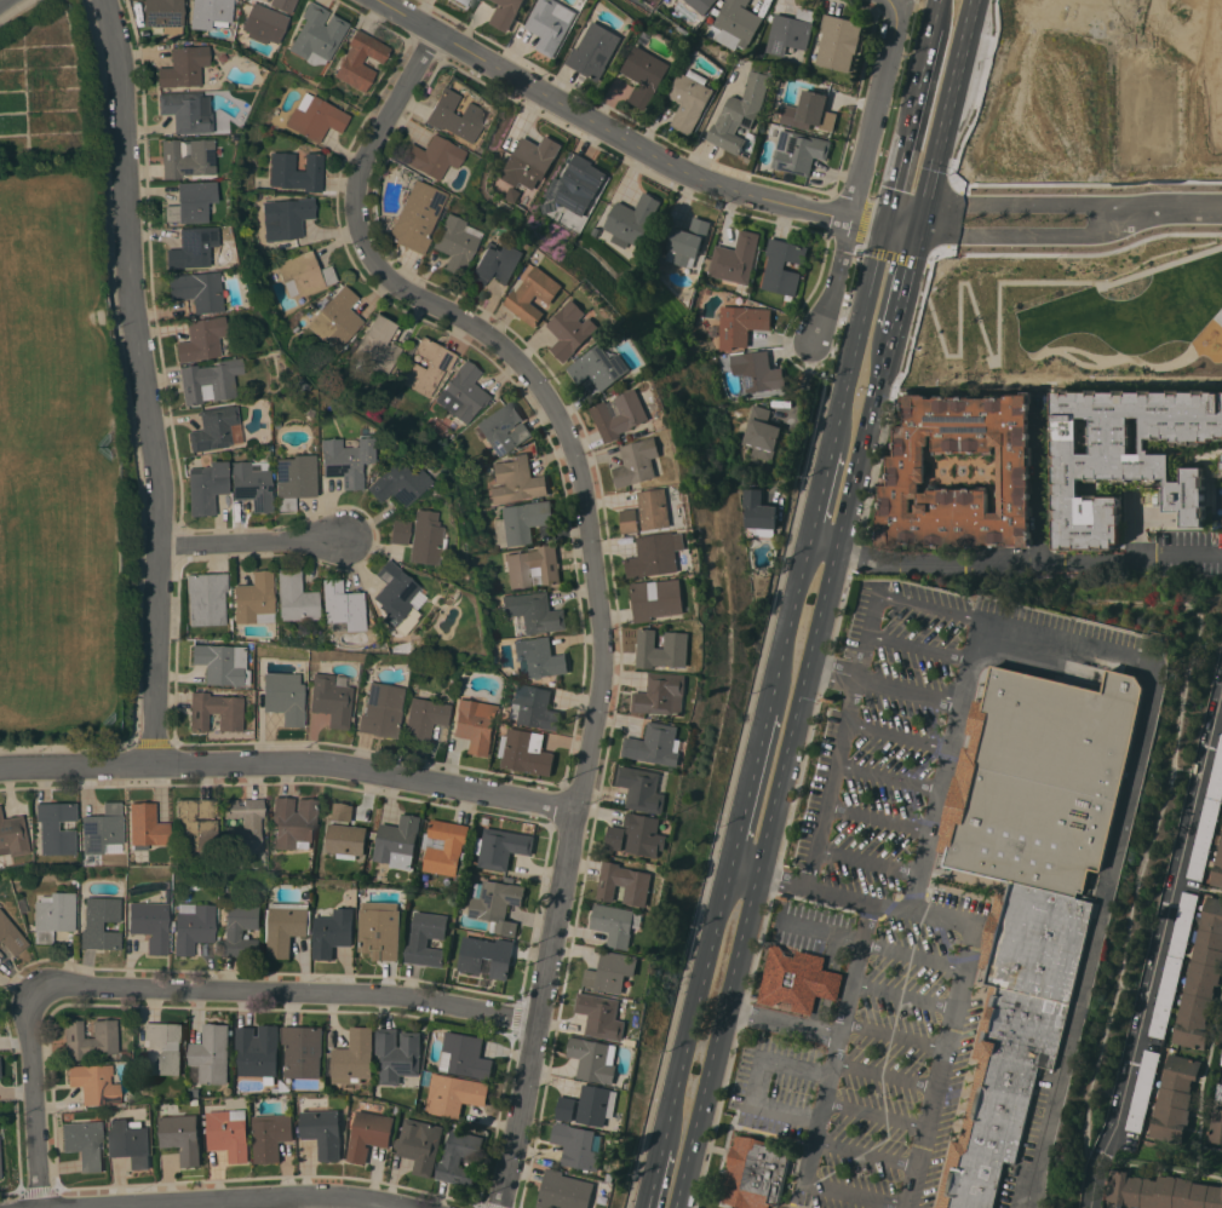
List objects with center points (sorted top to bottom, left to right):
building: (460, 1)
building: (282, 5)
building: (701, 5)
road: (13, 8)
building: (210, 12)
building: (507, 13)
building: (163, 15)
building: (264, 23)
building: (552, 24)
building: (735, 24)
building: (791, 30)
building: (319, 33)
building: (836, 42)
building: (596, 51)
building: (360, 59)
building: (184, 65)
road: (922, 73)
building: (646, 74)
building: (690, 99)
road: (518, 102)
road: (877, 109)
building: (187, 111)
building: (740, 114)
building: (811, 114)
road: (942, 114)
building: (455, 115)
building: (316, 119)
road: (621, 137)
building: (799, 151)
building: (434, 156)
building: (187, 157)
building: (530, 161)
building: (297, 171)
building: (580, 184)
road: (895, 185)
building: (511, 194)
road: (849, 195)
building: (191, 202)
road: (1164, 205)
road: (832, 213)
building: (414, 214)
building: (286, 218)
building: (631, 219)
road: (1106, 220)
road: (864, 224)
traffic signals: (887, 224)
road: (900, 226)
traffic signals: (914, 230)
building: (688, 241)
building: (455, 242)
building: (193, 247)
road: (891, 255)
building: (735, 258)
building: (500, 259)
building: (784, 266)
building: (304, 274)
road: (901, 281)
road: (833, 282)
building: (196, 289)
building: (534, 294)
road: (150, 295)
building: (337, 317)
building: (742, 323)
building: (573, 329)
road: (859, 336)
building: (202, 339)
building: (378, 344)
building: (426, 367)
building: (602, 367)
building: (757, 370)
road: (142, 380)
building: (210, 380)
building: (463, 392)
road: (798, 413)
building: (621, 414)
building: (504, 427)
building: (214, 428)
building: (761, 433)
road: (133, 436)
building: (1126, 458)
building: (345, 460)
building: (638, 461)
park: (56, 462)
building: (1214, 472)
building: (907, 473)
building: (400, 479)
building: (516, 481)
building: (294, 482)
building: (251, 485)
building: (206, 487)
road: (1039, 491)
road: (821, 493)
building: (655, 508)
building: (758, 510)
building: (521, 522)
building: (630, 522)
building: (397, 531)
building: (425, 539)
road: (182, 541)
road: (249, 542)
building: (656, 553)
road: (1178, 556)
road: (970, 557)
road: (592, 563)
building: (533, 566)
building: (294, 597)
building: (206, 598)
building: (254, 598)
building: (396, 598)
building: (658, 598)
road: (822, 604)
building: (342, 605)
road: (931, 608)
building: (533, 612)
road: (787, 622)
road: (865, 633)
road: (918, 645)
building: (662, 649)
building: (539, 657)
building: (222, 663)
building: (661, 694)
building: (285, 696)
building: (332, 698)
building: (534, 707)
building: (381, 709)
building: (214, 712)
building: (424, 719)
building: (476, 724)
road: (1140, 731)
road: (810, 735)
road: (896, 735)
road: (154, 742)
building: (655, 744)
building: (526, 752)
road: (289, 760)
road: (887, 777)
road: (562, 780)
building: (1042, 780)
road: (830, 782)
road: (746, 787)
building: (643, 788)
road: (935, 805)
building: (342, 811)
road: (877, 818)
building: (1207, 819)
building: (294, 822)
building: (195, 824)
building: (243, 824)
building: (145, 826)
building: (54, 827)
building: (102, 828)
building: (12, 834)
building: (646, 834)
building: (616, 838)
building: (346, 840)
building: (398, 841)
building: (446, 846)
building: (503, 847)
road: (866, 861)
building: (1217, 868)
road: (741, 870)
building: (625, 884)
building: (498, 904)
building: (53, 914)
building: (101, 922)
building: (150, 924)
building: (615, 924)
building: (285, 926)
road: (1161, 926)
building: (194, 928)
road: (821, 928)
building: (380, 930)
building: (241, 931)
building: (333, 932)
building: (11, 934)
building: (426, 939)
building: (1037, 942)
building: (486, 955)
road: (911, 955)
road: (965, 957)
building: (1172, 963)
road: (854, 970)
building: (612, 971)
building: (797, 979)
building: (1201, 979)
road: (179, 991)
road: (902, 994)
road: (505, 995)
road: (693, 1006)
building: (602, 1016)
road: (893, 1034)
building: (1221, 1036)
building: (90, 1039)
road: (716, 1041)
building: (163, 1047)
building: (304, 1051)
building: (259, 1052)
building: (212, 1053)
building: (397, 1054)
building: (465, 1055)
building: (352, 1058)
building: (1221, 1058)
building: (595, 1059)
road: (1221, 1071)
road: (884, 1074)
road: (753, 1082)
building: (93, 1083)
building: (1142, 1091)
building: (1218, 1091)
building: (1000, 1092)
building: (454, 1094)
building: (1175, 1098)
building: (597, 1104)
road: (822, 1104)
building: (567, 1108)
road: (874, 1114)
building: (1214, 1126)
building: (371, 1129)
building: (323, 1132)
building: (230, 1133)
building: (271, 1135)
building: (182, 1137)
building: (131, 1141)
building: (85, 1144)
building: (420, 1144)
building: (578, 1146)
road: (866, 1152)
building: (460, 1157)
building: (756, 1173)
road: (652, 1178)
road: (1090, 1189)
building: (564, 1191)
building: (1161, 1191)
road: (275, 1203)
road: (259, 1206)
road: (907, 1207)

